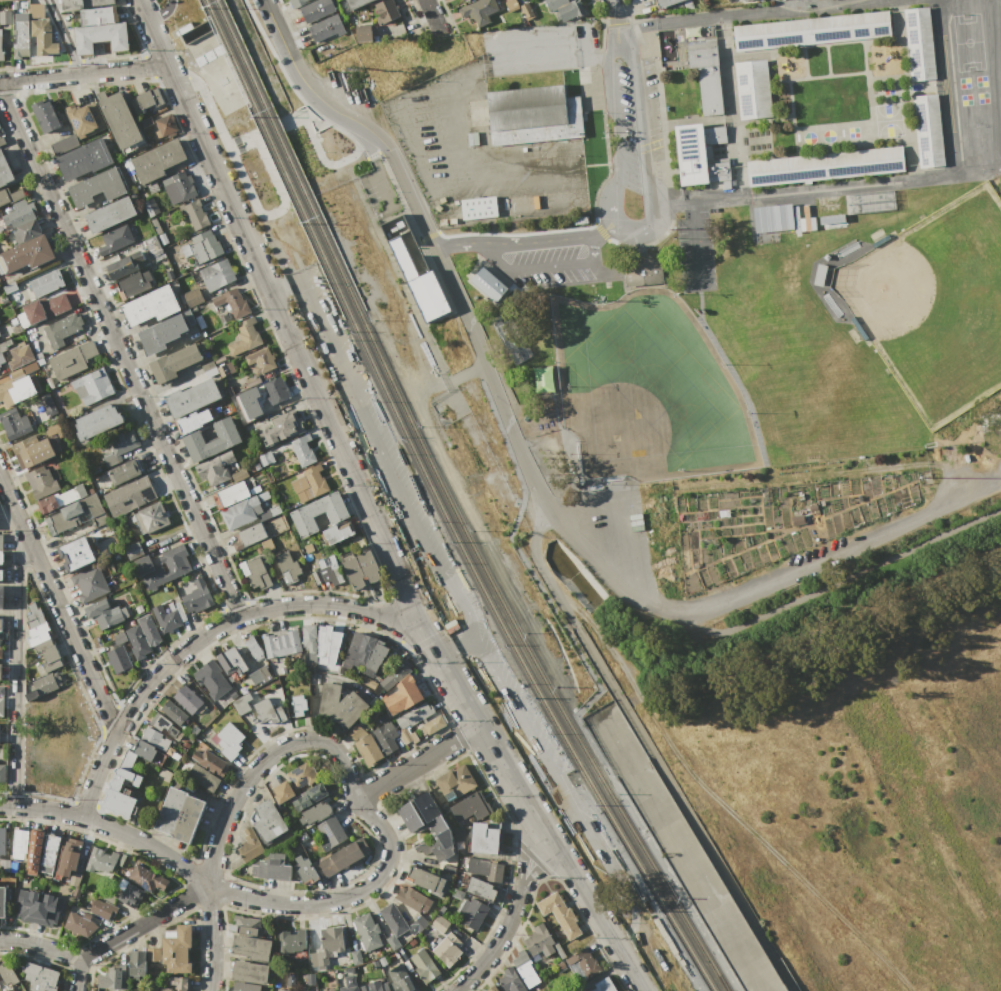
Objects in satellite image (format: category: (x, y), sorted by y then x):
building: (744, 0)
building: (82, 3)
building: (299, 3)
building: (355, 3)
building: (666, 3)
building: (23, 5)
road: (795, 5)
road: (156, 7)
building: (36, 8)
parking lot: (165, 8)
building: (565, 8)
building: (316, 9)
building: (527, 10)
building: (385, 11)
building: (479, 11)
road: (162, 12)
road: (432, 13)
road: (756, 14)
building: (98, 16)
road: (617, 16)
building: (5, 17)
building: (326, 27)
building: (20, 31)
building: (811, 31)
road: (279, 33)
building: (363, 33)
building: (100, 36)
building: (42, 37)
road: (64, 37)
building: (920, 44)
building: (1, 49)
building: (20, 52)
building: (702, 54)
road: (84, 74)
building: (753, 89)
building: (710, 91)
building: (146, 99)
building: (57, 104)
building: (45, 115)
building: (85, 119)
building: (119, 121)
building: (145, 121)
building: (166, 125)
road: (338, 125)
building: (0, 130)
building: (928, 130)
building: (714, 135)
building: (509, 136)
building: (64, 145)
road: (315, 145)
railway: (287, 154)
building: (691, 154)
railway: (277, 156)
building: (83, 159)
building: (157, 160)
building: (825, 166)
building: (4, 170)
building: (718, 172)
road: (889, 178)
road: (244, 184)
building: (179, 186)
building: (97, 187)
building: (10, 195)
building: (150, 207)
building: (194, 213)
building: (18, 214)
building: (110, 214)
building: (772, 218)
building: (831, 221)
building: (157, 228)
road: (629, 229)
building: (27, 231)
road: (525, 238)
building: (116, 239)
road: (694, 243)
building: (152, 246)
building: (205, 246)
building: (185, 249)
building: (170, 250)
building: (26, 254)
building: (138, 257)
building: (402, 258)
building: (414, 258)
road: (541, 266)
building: (121, 268)
building: (642, 271)
building: (217, 274)
building: (45, 283)
building: (133, 284)
building: (488, 284)
building: (9, 287)
building: (427, 295)
building: (193, 297)
building: (232, 302)
park: (935, 303)
building: (151, 305)
building: (45, 308)
building: (200, 322)
building: (62, 330)
building: (162, 333)
building: (245, 336)
building: (4, 347)
road: (120, 353)
building: (19, 356)
building: (73, 360)
building: (175, 362)
building: (261, 362)
building: (209, 368)
building: (22, 369)
road: (466, 372)
building: (92, 386)
building: (17, 389)
park: (648, 389)
building: (275, 390)
building: (191, 398)
building: (250, 402)
building: (47, 408)
building: (193, 420)
building: (98, 421)
building: (15, 423)
building: (282, 429)
building: (227, 439)
building: (120, 446)
building: (33, 450)
building: (303, 451)
building: (265, 458)
building: (215, 468)
building: (124, 471)
building: (239, 474)
building: (315, 480)
building: (41, 481)
building: (130, 494)
building: (230, 494)
building: (46, 504)
road: (528, 507)
road: (368, 508)
building: (94, 509)
road: (551, 509)
building: (238, 512)
building: (318, 513)
building: (63, 518)
building: (150, 518)
building: (337, 533)
building: (249, 535)
building: (1, 539)
building: (133, 550)
building: (76, 554)
building: (2, 557)
building: (287, 566)
building: (162, 567)
building: (360, 569)
building: (255, 571)
building: (1, 574)
building: (327, 574)
road: (846, 579)
building: (90, 583)
road: (543, 592)
building: (2, 596)
building: (197, 596)
road: (463, 604)
road: (57, 607)
building: (104, 614)
building: (169, 617)
building: (0, 622)
building: (36, 625)
building: (149, 630)
road: (208, 633)
building: (309, 637)
building: (119, 638)
building: (323, 640)
building: (137, 642)
building: (280, 642)
building: (253, 647)
building: (359, 648)
road: (455, 649)
building: (1, 653)
building: (48, 654)
railway: (531, 656)
railway: (520, 658)
building: (118, 659)
building: (375, 659)
building: (231, 661)
building: (283, 670)
building: (0, 672)
road: (16, 674)
building: (260, 674)
building: (395, 675)
building: (211, 679)
building: (369, 683)
building: (41, 685)
building: (1, 690)
building: (402, 695)
building: (75, 698)
building: (187, 699)
building: (241, 703)
building: (299, 705)
building: (340, 705)
building: (1, 706)
building: (268, 711)
building: (173, 712)
building: (412, 715)
building: (432, 725)
building: (165, 726)
building: (84, 730)
building: (385, 733)
building: (408, 737)
building: (154, 738)
building: (229, 740)
building: (185, 744)
building: (365, 745)
road: (646, 746)
building: (144, 749)
building: (177, 756)
building: (127, 759)
building: (210, 762)
road: (261, 762)
road: (415, 763)
building: (2, 772)
building: (300, 775)
building: (203, 777)
building: (455, 782)
building: (281, 786)
building: (120, 793)
building: (314, 794)
road: (721, 803)
building: (470, 807)
building: (315, 813)
building: (180, 814)
building: (269, 822)
building: (427, 825)
road: (110, 827)
building: (331, 831)
building: (459, 834)
building: (487, 837)
building: (2, 841)
building: (19, 845)
building: (249, 845)
building: (50, 849)
building: (33, 851)
building: (343, 856)
building: (68, 859)
building: (102, 862)
building: (4, 866)
building: (272, 867)
building: (305, 869)
building: (485, 869)
building: (146, 879)
building: (426, 880)
building: (478, 887)
building: (129, 893)
building: (457, 893)
railway: (676, 895)
building: (108, 897)
building: (413, 899)
road: (342, 900)
building: (2, 901)
railway: (653, 901)
building: (38, 908)
building: (102, 908)
road: (513, 910)
building: (471, 913)
building: (558, 913)
building: (80, 923)
building: (418, 923)
building: (439, 923)
road: (142, 924)
building: (392, 924)
building: (248, 926)
building: (367, 931)
road: (212, 938)
building: (291, 941)
building: (539, 941)
building: (327, 945)
road: (39, 946)
building: (251, 947)
building: (448, 949)
building: (175, 950)
building: (558, 950)
building: (152, 954)
building: (355, 957)
building: (584, 963)
building: (137, 964)
building: (425, 966)
building: (525, 969)
building: (249, 972)
building: (7, 974)
building: (399, 976)
building: (40, 977)
road: (76, 977)
building: (112, 979)
building: (511, 980)
building: (179, 983)
building: (604, 985)
building: (244, 987)
building: (375, 987)
building: (349, 988)
building: (491, 988)
building: (165, 989)
building: (276, 990)
building: (282, 990)
building: (304, 990)
building: (330, 990)

